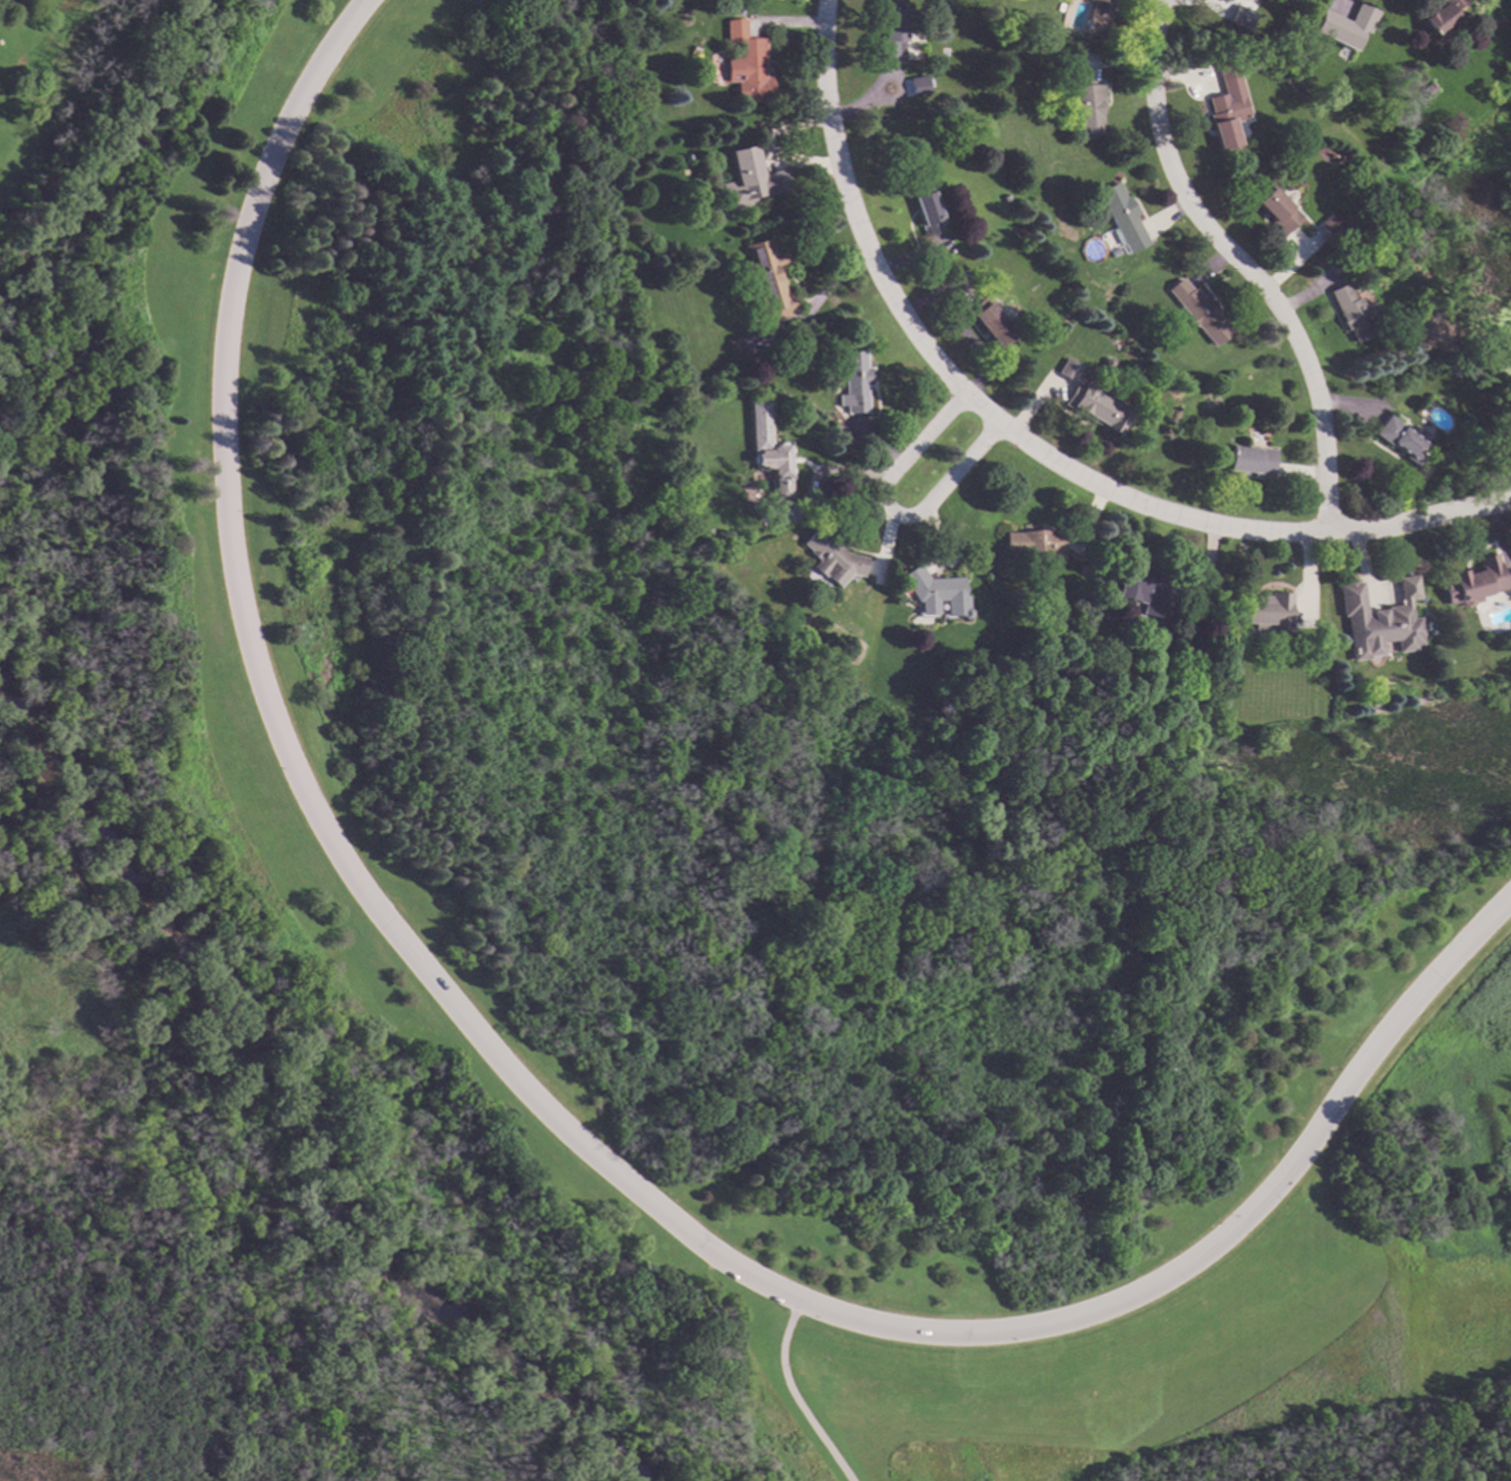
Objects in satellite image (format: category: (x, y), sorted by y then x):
building: (1241, 0)
building: (1440, 16)
building: (1098, 17)
building: (1238, 18)
building: (1344, 27)
building: (891, 34)
building: (748, 71)
building: (917, 87)
building: (1225, 106)
building: (1089, 111)
river: (94, 163)
building: (749, 179)
building: (1274, 210)
building: (927, 211)
building: (1122, 216)
building: (1328, 225)
building: (1019, 233)
road: (1241, 265)
building: (1347, 265)
park: (1473, 270)
building: (767, 281)
building: (1198, 313)
building: (1352, 313)
building: (995, 322)
building: (732, 344)
building: (1107, 363)
building: (1069, 369)
building: (854, 381)
building: (1096, 407)
building: (1400, 440)
road: (1024, 445)
building: (766, 450)
building: (1249, 461)
road: (893, 511)
building: (707, 534)
building: (1033, 542)
building: (830, 558)
building: (1084, 571)
building: (1473, 581)
building: (930, 589)
building: (1150, 590)
building: (1261, 611)
building: (1378, 620)
building: (1030, 672)
building: (1374, 702)
road: (280, 738)
park: (633, 884)
river: (297, 1097)
road: (172, 1135)
road: (1222, 1239)
road: (793, 1396)

